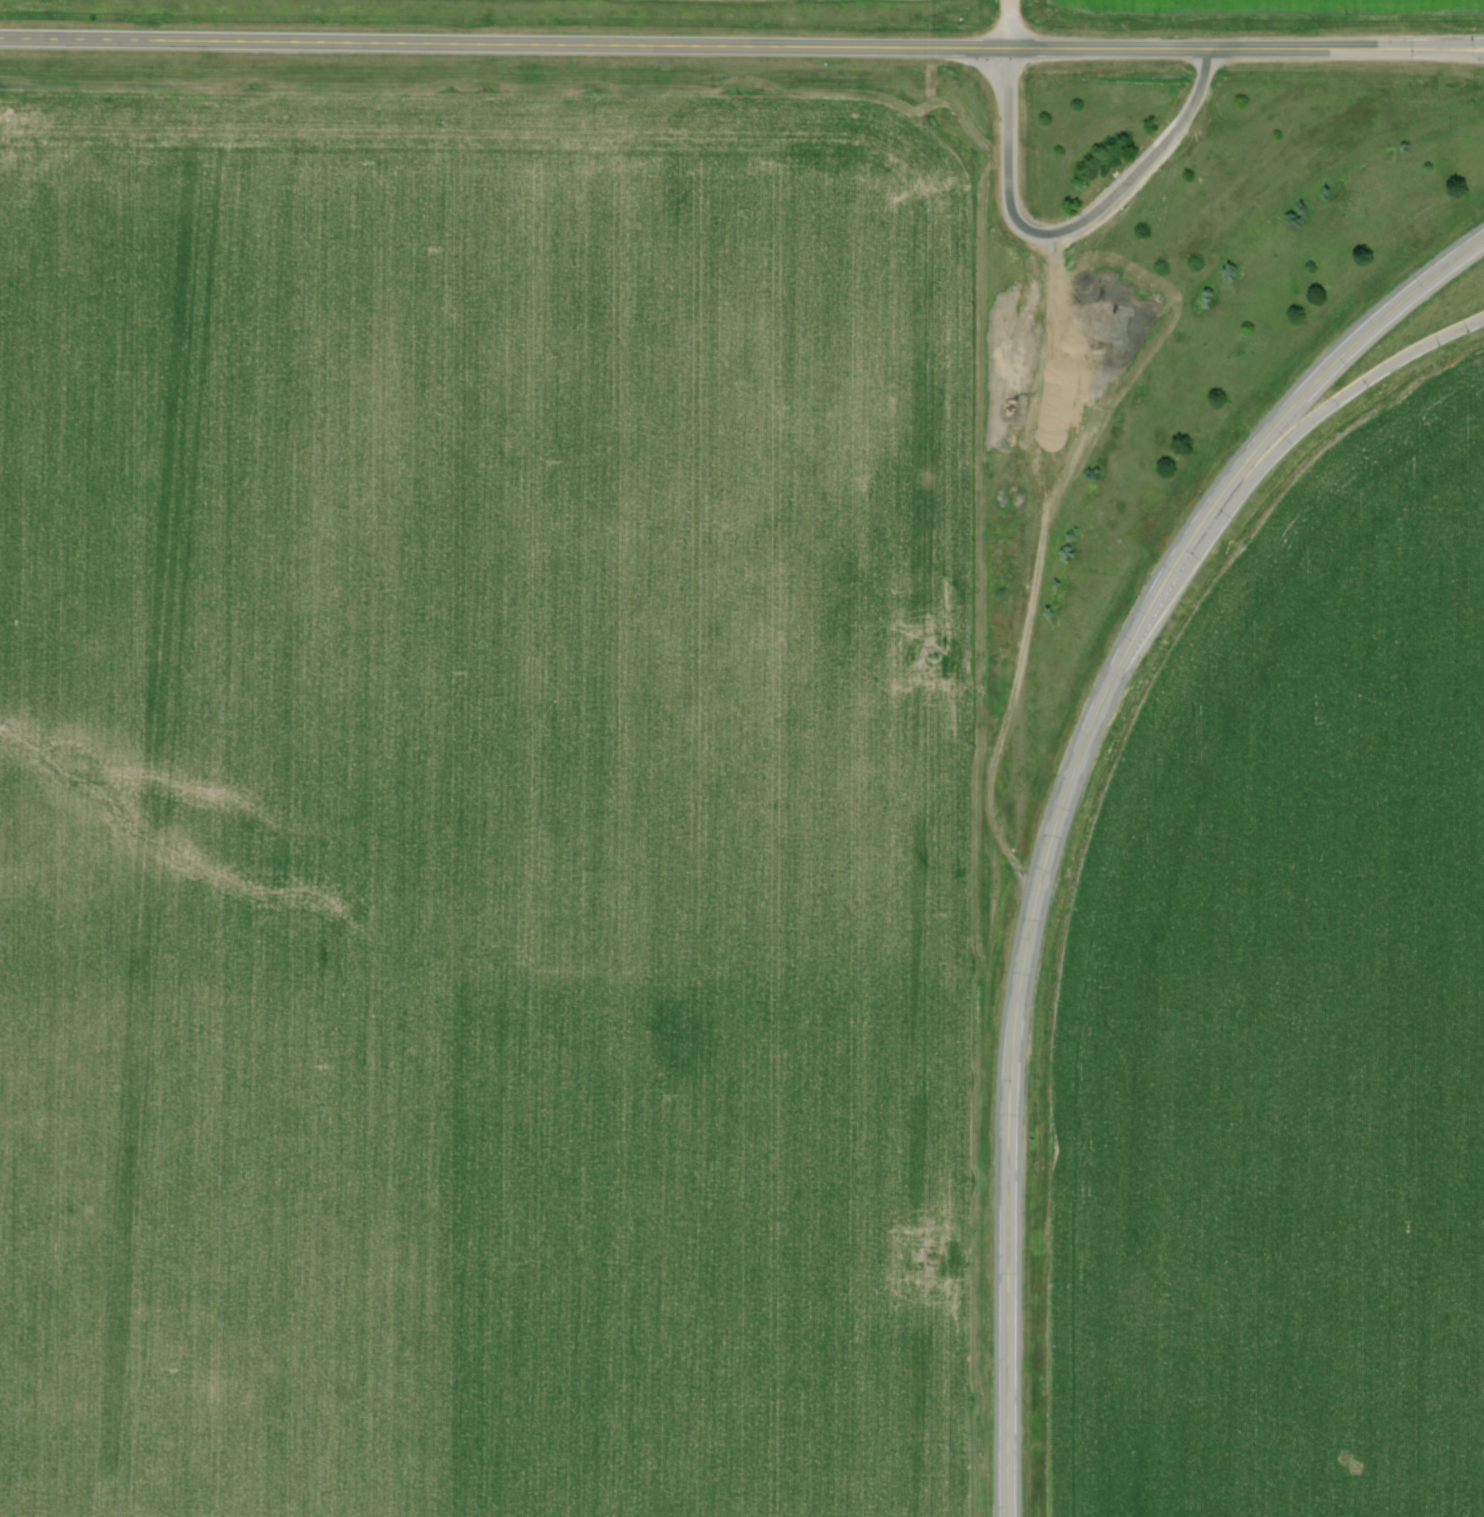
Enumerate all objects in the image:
road: (1008, 24)
road: (1429, 41)
road: (687, 45)
road: (1429, 52)
building: (1014, 171)
road: (1074, 224)
road: (1326, 410)
road: (1062, 803)

